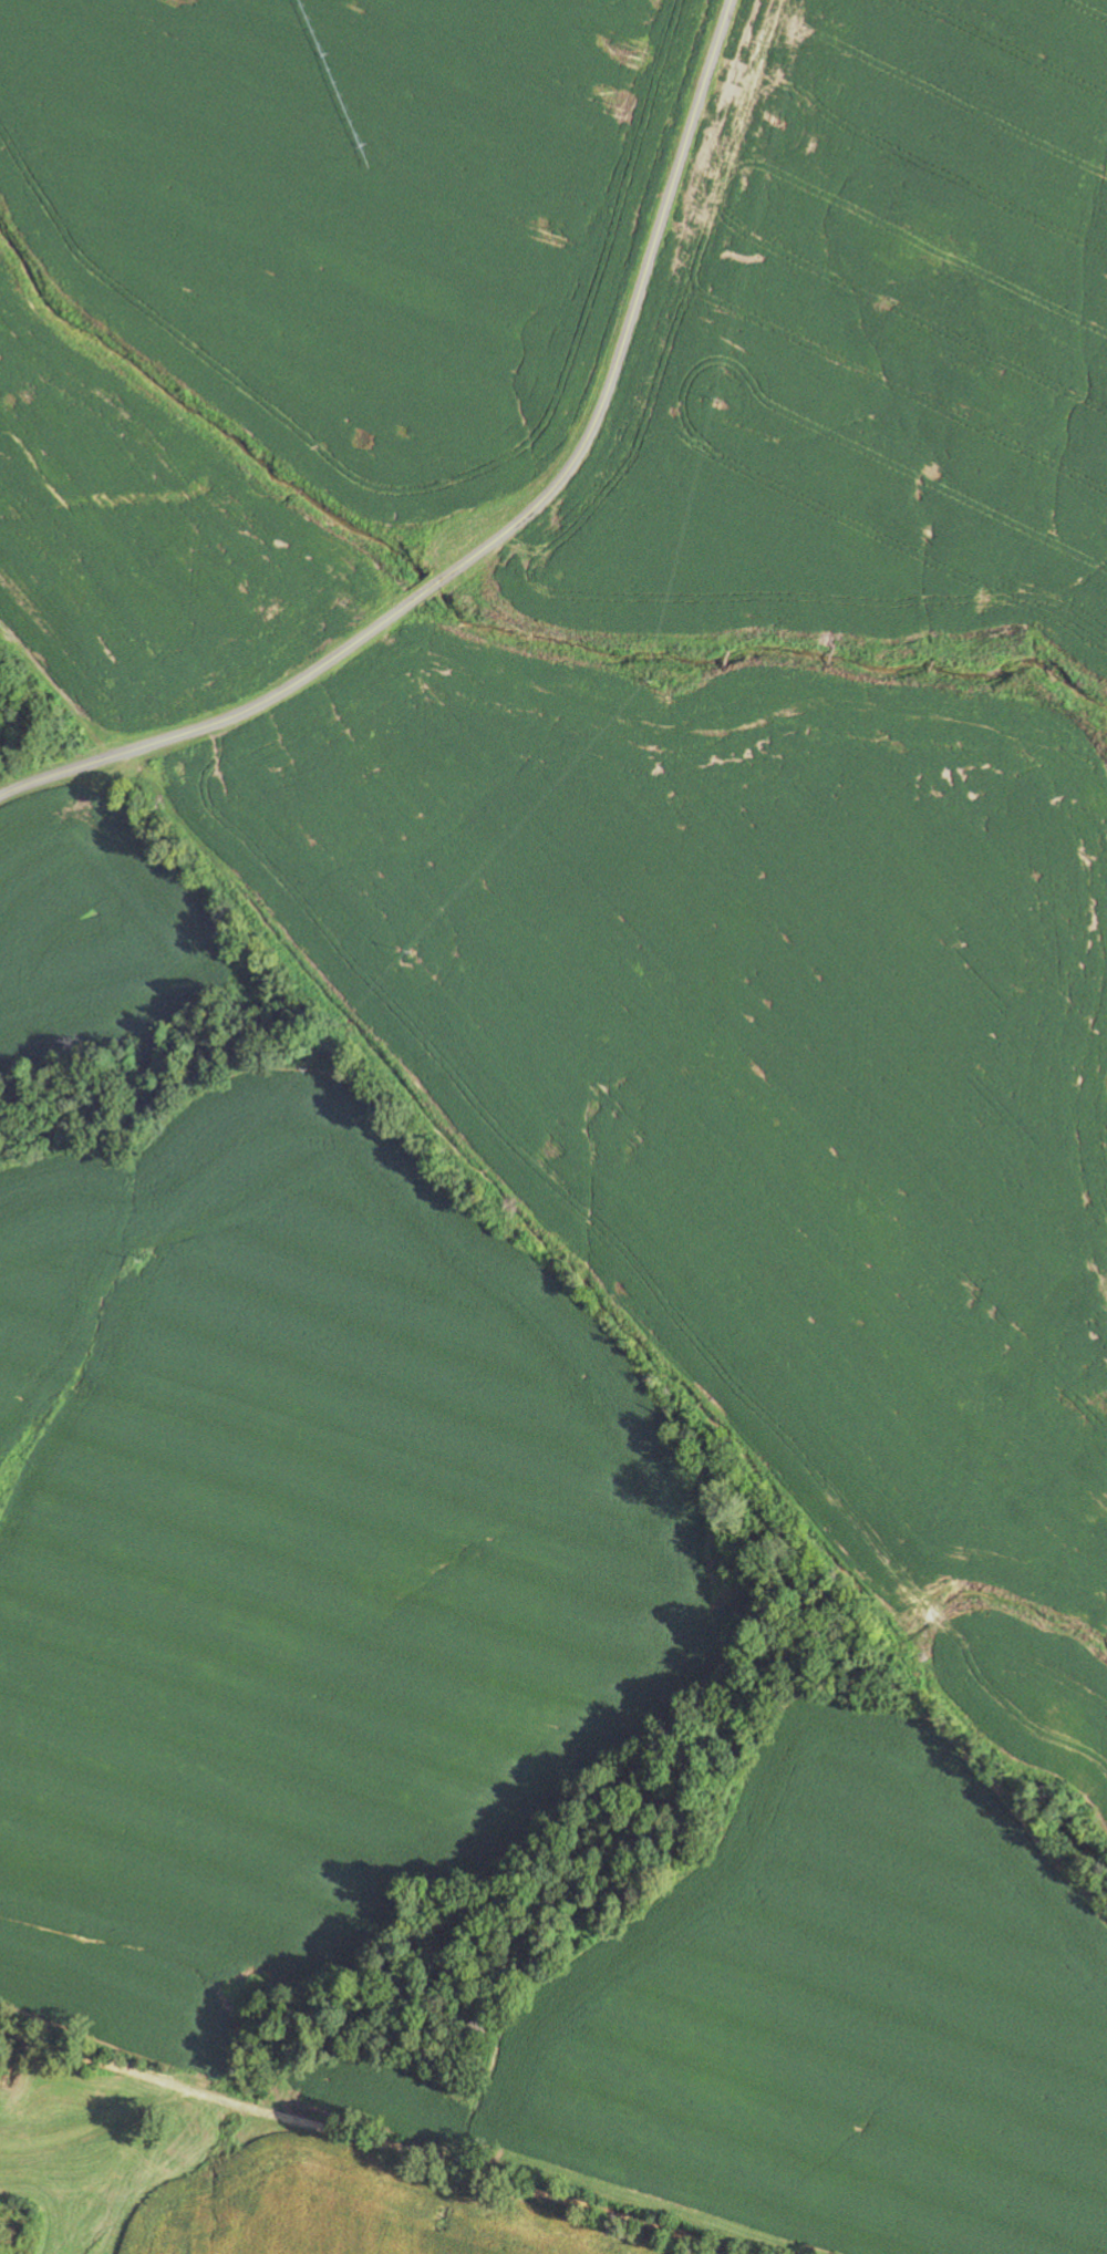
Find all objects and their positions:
road: (510, 529)
road: (366, 2139)

